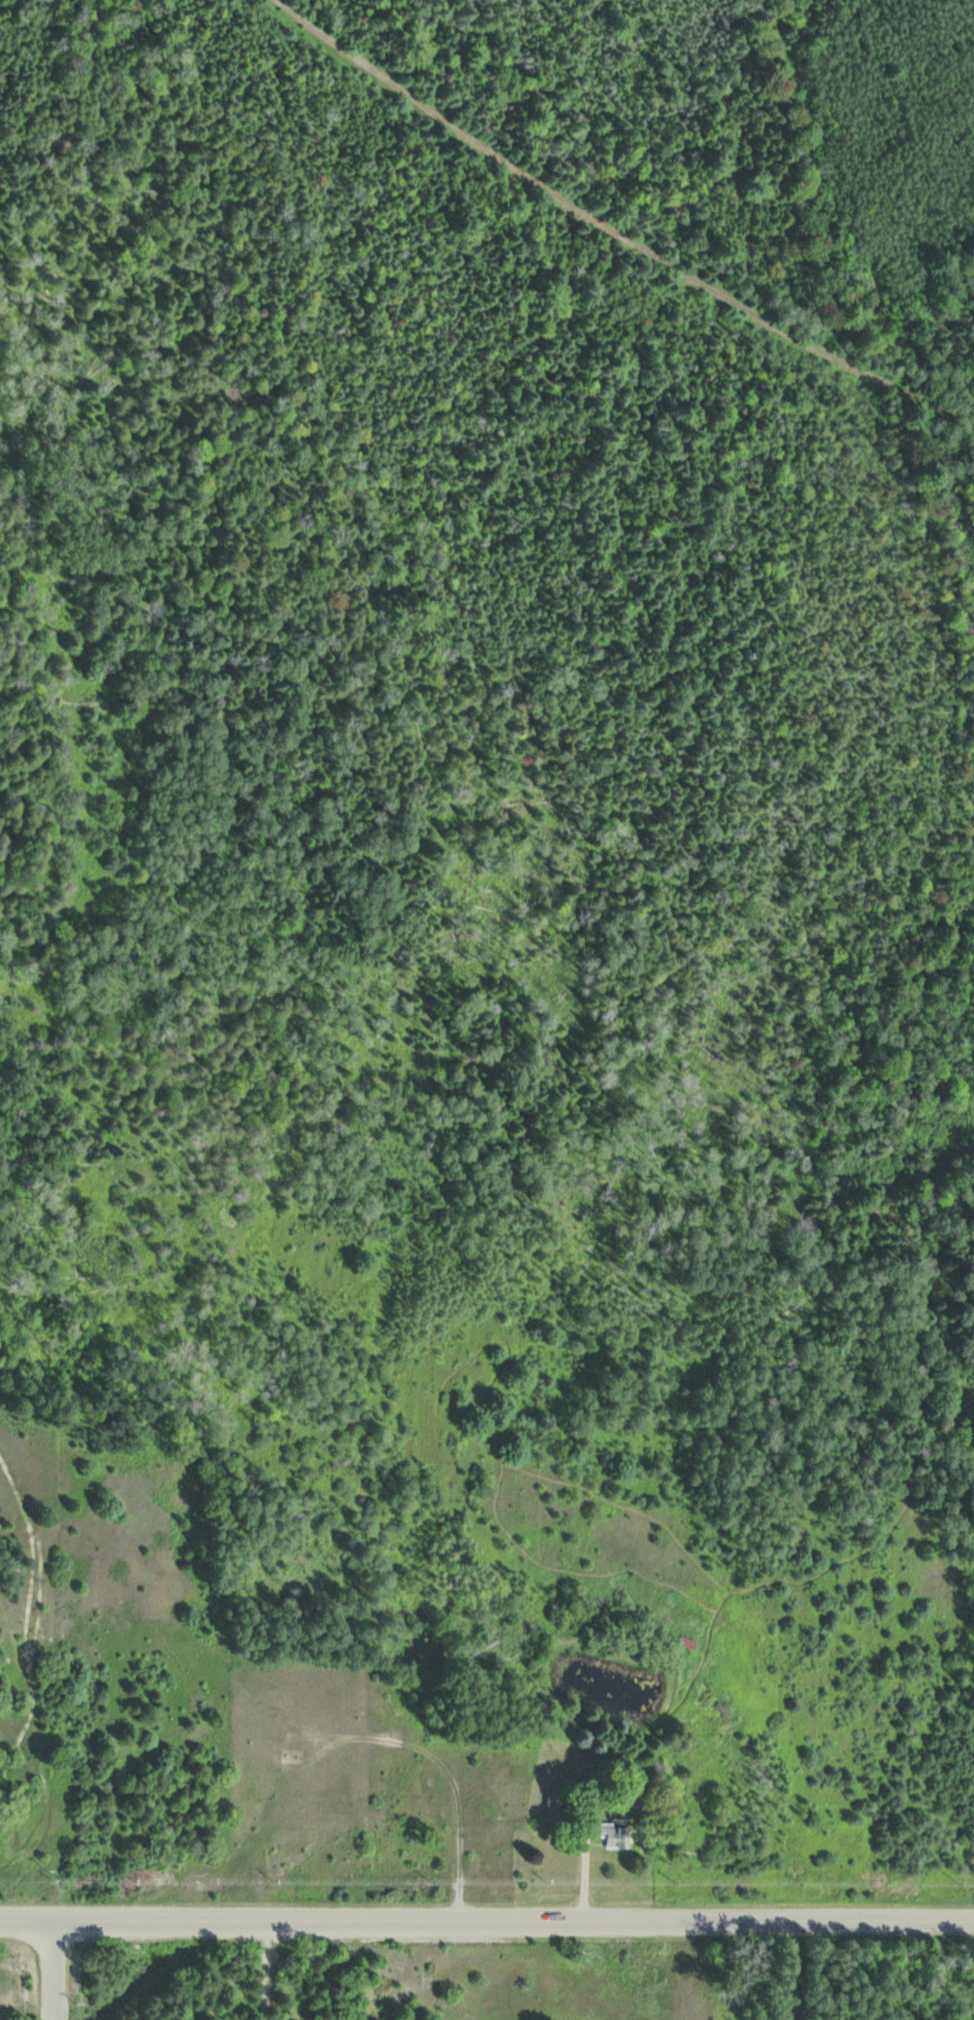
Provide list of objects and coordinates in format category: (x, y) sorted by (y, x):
building: (688, 1643)
building: (556, 1806)
building: (615, 1833)
road: (486, 1921)
road: (53, 1970)

